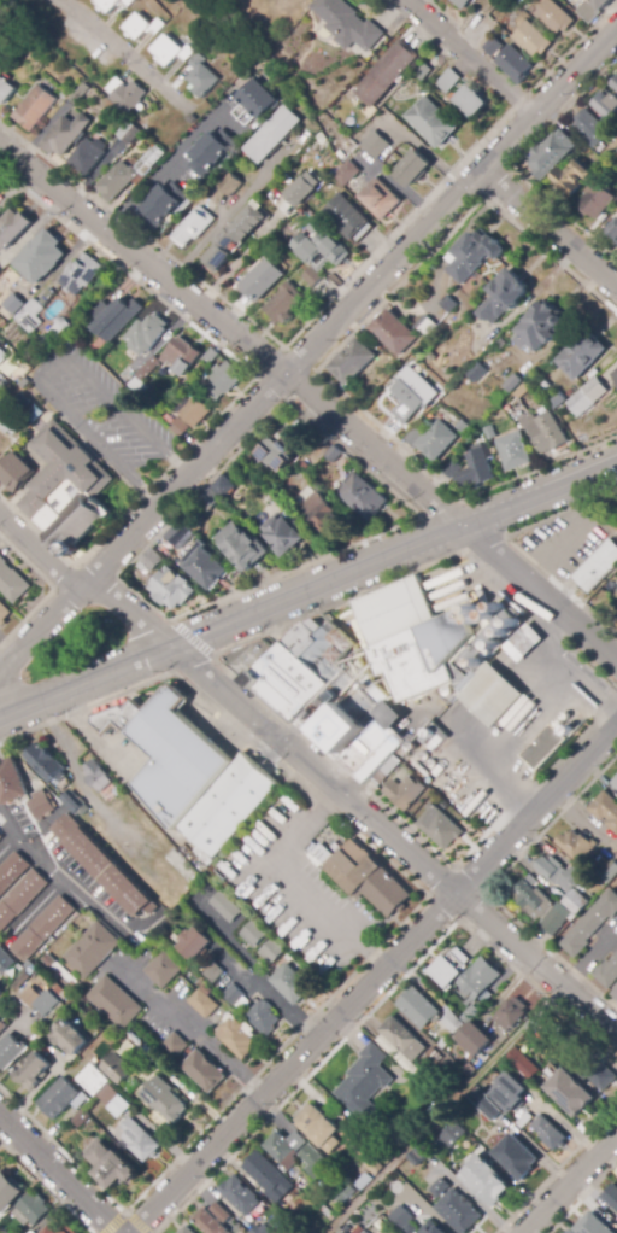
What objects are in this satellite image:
building: (129, 2)
building: (600, 2)
building: (110, 4)
building: (463, 4)
building: (588, 10)
building: (560, 19)
building: (489, 21)
building: (347, 25)
building: (147, 27)
building: (531, 39)
building: (492, 45)
building: (177, 51)
road: (124, 52)
road: (472, 59)
building: (200, 62)
building: (513, 63)
building: (423, 72)
building: (387, 74)
building: (448, 80)
building: (208, 81)
building: (616, 83)
building: (5, 90)
building: (64, 94)
building: (78, 94)
building: (134, 97)
building: (470, 99)
building: (264, 104)
building: (609, 105)
building: (35, 107)
building: (243, 113)
building: (433, 122)
building: (593, 129)
building: (133, 133)
building: (65, 134)
building: (281, 135)
building: (376, 142)
building: (218, 153)
building: (552, 154)
building: (94, 156)
building: (148, 159)
building: (412, 168)
building: (352, 174)
building: (571, 177)
building: (123, 182)
road: (148, 183)
building: (230, 185)
building: (312, 185)
building: (380, 199)
building: (595, 199)
building: (170, 204)
building: (290, 204)
road: (231, 209)
building: (347, 217)
building: (199, 226)
building: (612, 226)
building: (12, 228)
road: (550, 230)
building: (242, 236)
building: (321, 247)
building: (474, 256)
building: (47, 258)
building: (89, 268)
building: (312, 276)
building: (262, 277)
building: (504, 297)
building: (284, 302)
building: (13, 304)
building: (449, 304)
building: (106, 309)
building: (34, 315)
building: (123, 315)
building: (425, 327)
building: (539, 328)
building: (59, 329)
building: (152, 332)
building: (394, 333)
road: (308, 351)
building: (187, 352)
building: (2, 356)
building: (582, 356)
building: (354, 360)
road: (46, 369)
building: (23, 373)
building: (475, 373)
building: (615, 374)
building: (231, 375)
building: (143, 376)
building: (380, 380)
building: (513, 384)
building: (216, 393)
building: (411, 395)
road: (313, 396)
building: (588, 397)
building: (557, 399)
building: (201, 410)
building: (8, 420)
building: (183, 426)
building: (462, 427)
building: (488, 433)
building: (546, 433)
building: (436, 440)
building: (280, 450)
building: (512, 451)
building: (333, 455)
building: (451, 468)
building: (475, 469)
building: (14, 472)
building: (227, 480)
building: (252, 485)
building: (65, 487)
building: (363, 498)
building: (208, 499)
building: (616, 504)
building: (319, 512)
building: (193, 522)
building: (284, 533)
building: (178, 536)
building: (242, 547)
road: (39, 553)
building: (149, 561)
building: (204, 566)
building: (598, 567)
building: (431, 577)
building: (11, 582)
building: (171, 588)
road: (308, 589)
building: (595, 600)
building: (4, 614)
building: (616, 615)
building: (524, 643)
building: (431, 649)
building: (327, 695)
building: (546, 746)
building: (43, 760)
road: (492, 760)
building: (192, 772)
building: (11, 781)
building: (99, 781)
building: (615, 782)
building: (404, 791)
building: (72, 800)
road: (353, 802)
building: (41, 807)
building: (605, 811)
building: (437, 826)
building: (1, 837)
building: (577, 846)
building: (102, 866)
building: (174, 870)
building: (12, 871)
road: (58, 872)
building: (557, 873)
building: (368, 878)
road: (293, 882)
building: (20, 898)
building: (576, 902)
building: (227, 907)
building: (540, 907)
building: (590, 923)
road: (394, 927)
building: (42, 929)
building: (253, 934)
building: (194, 943)
building: (92, 951)
building: (271, 951)
road: (589, 954)
building: (5, 962)
building: (451, 968)
road: (235, 969)
building: (163, 970)
road: (257, 970)
building: (213, 972)
building: (607, 972)
road: (371, 977)
building: (478, 981)
building: (20, 982)
building: (290, 983)
building: (0, 991)
building: (615, 994)
building: (233, 995)
building: (31, 997)
road: (380, 1000)
building: (114, 1001)
building: (48, 1003)
building: (202, 1004)
building: (418, 1007)
building: (510, 1013)
building: (470, 1015)
building: (263, 1017)
building: (454, 1024)
building: (2, 1027)
road: (195, 1029)
building: (434, 1035)
building: (237, 1036)
building: (69, 1038)
building: (404, 1039)
building: (475, 1039)
building: (175, 1045)
building: (128, 1046)
building: (11, 1051)
building: (433, 1057)
building: (518, 1062)
building: (118, 1069)
building: (33, 1071)
building: (205, 1071)
building: (601, 1075)
building: (365, 1079)
building: (93, 1080)
building: (510, 1092)
building: (570, 1092)
building: (59, 1098)
building: (165, 1099)
building: (80, 1100)
building: (116, 1100)
building: (490, 1110)
building: (81, 1117)
building: (524, 1120)
building: (313, 1122)
building: (550, 1133)
building: (453, 1135)
building: (141, 1140)
building: (281, 1147)
building: (421, 1156)
building: (516, 1156)
building: (315, 1162)
building: (113, 1164)
building: (376, 1164)
road: (554, 1167)
building: (406, 1168)
road: (59, 1173)
building: (270, 1178)
building: (486, 1181)
building: (364, 1182)
road: (569, 1184)
road: (45, 1187)
building: (441, 1188)
building: (8, 1192)
building: (345, 1193)
building: (241, 1196)
road: (581, 1196)
building: (611, 1197)
building: (34, 1208)
road: (125, 1211)
building: (459, 1211)
building: (328, 1212)
building: (402, 1216)
building: (213, 1220)
building: (592, 1225)
building: (347, 1228)
building: (412, 1228)
building: (433, 1228)
building: (67, 1229)
building: (263, 1229)
building: (355, 1229)
building: (48, 1231)
building: (188, 1231)
building: (340, 1231)
building: (570, 1231)
building: (365, 1232)

